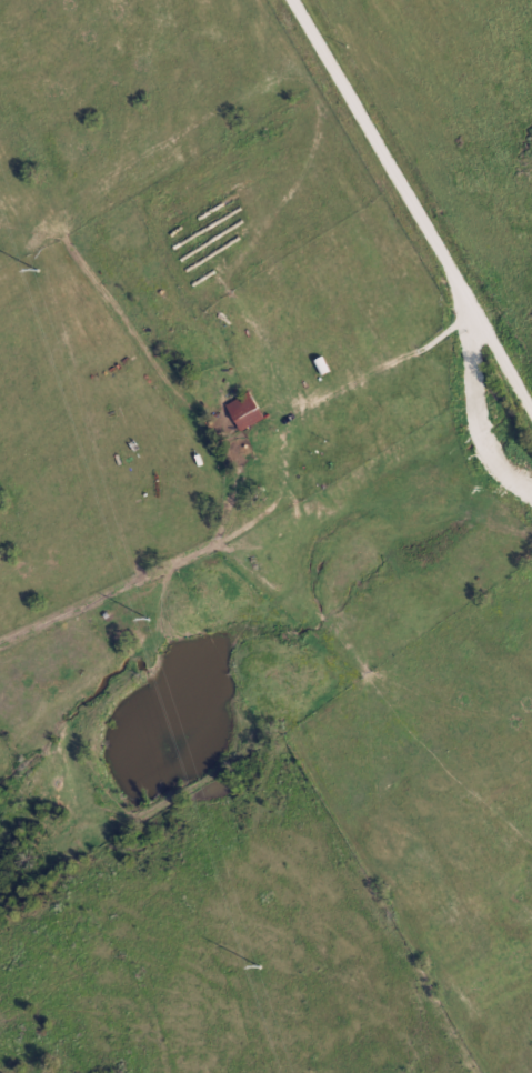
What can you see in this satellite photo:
road: (414, 199)
power tower: (36, 268)
building: (243, 412)
power tower: (149, 619)
power tower: (261, 966)

